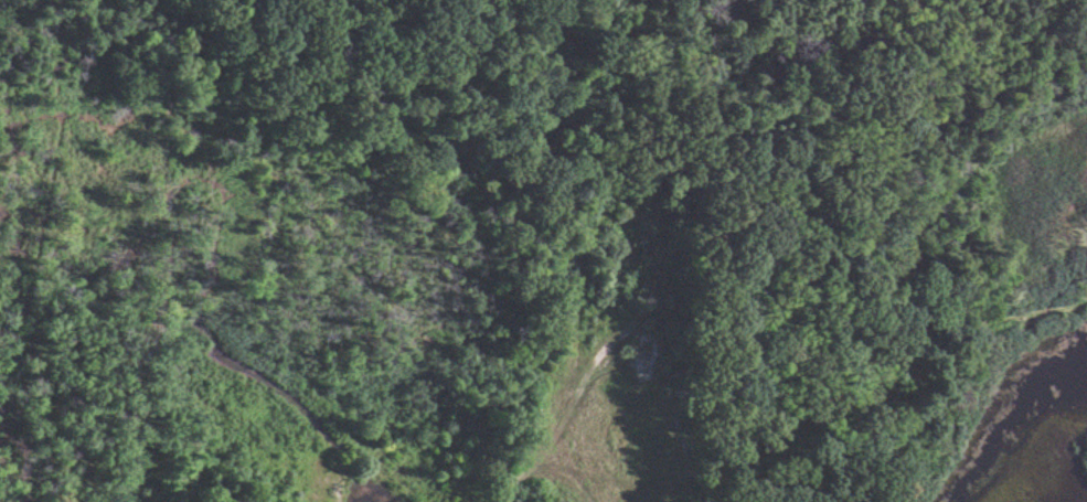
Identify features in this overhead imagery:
road: (816, 114)
road: (806, 309)
road: (557, 479)
road: (504, 483)

